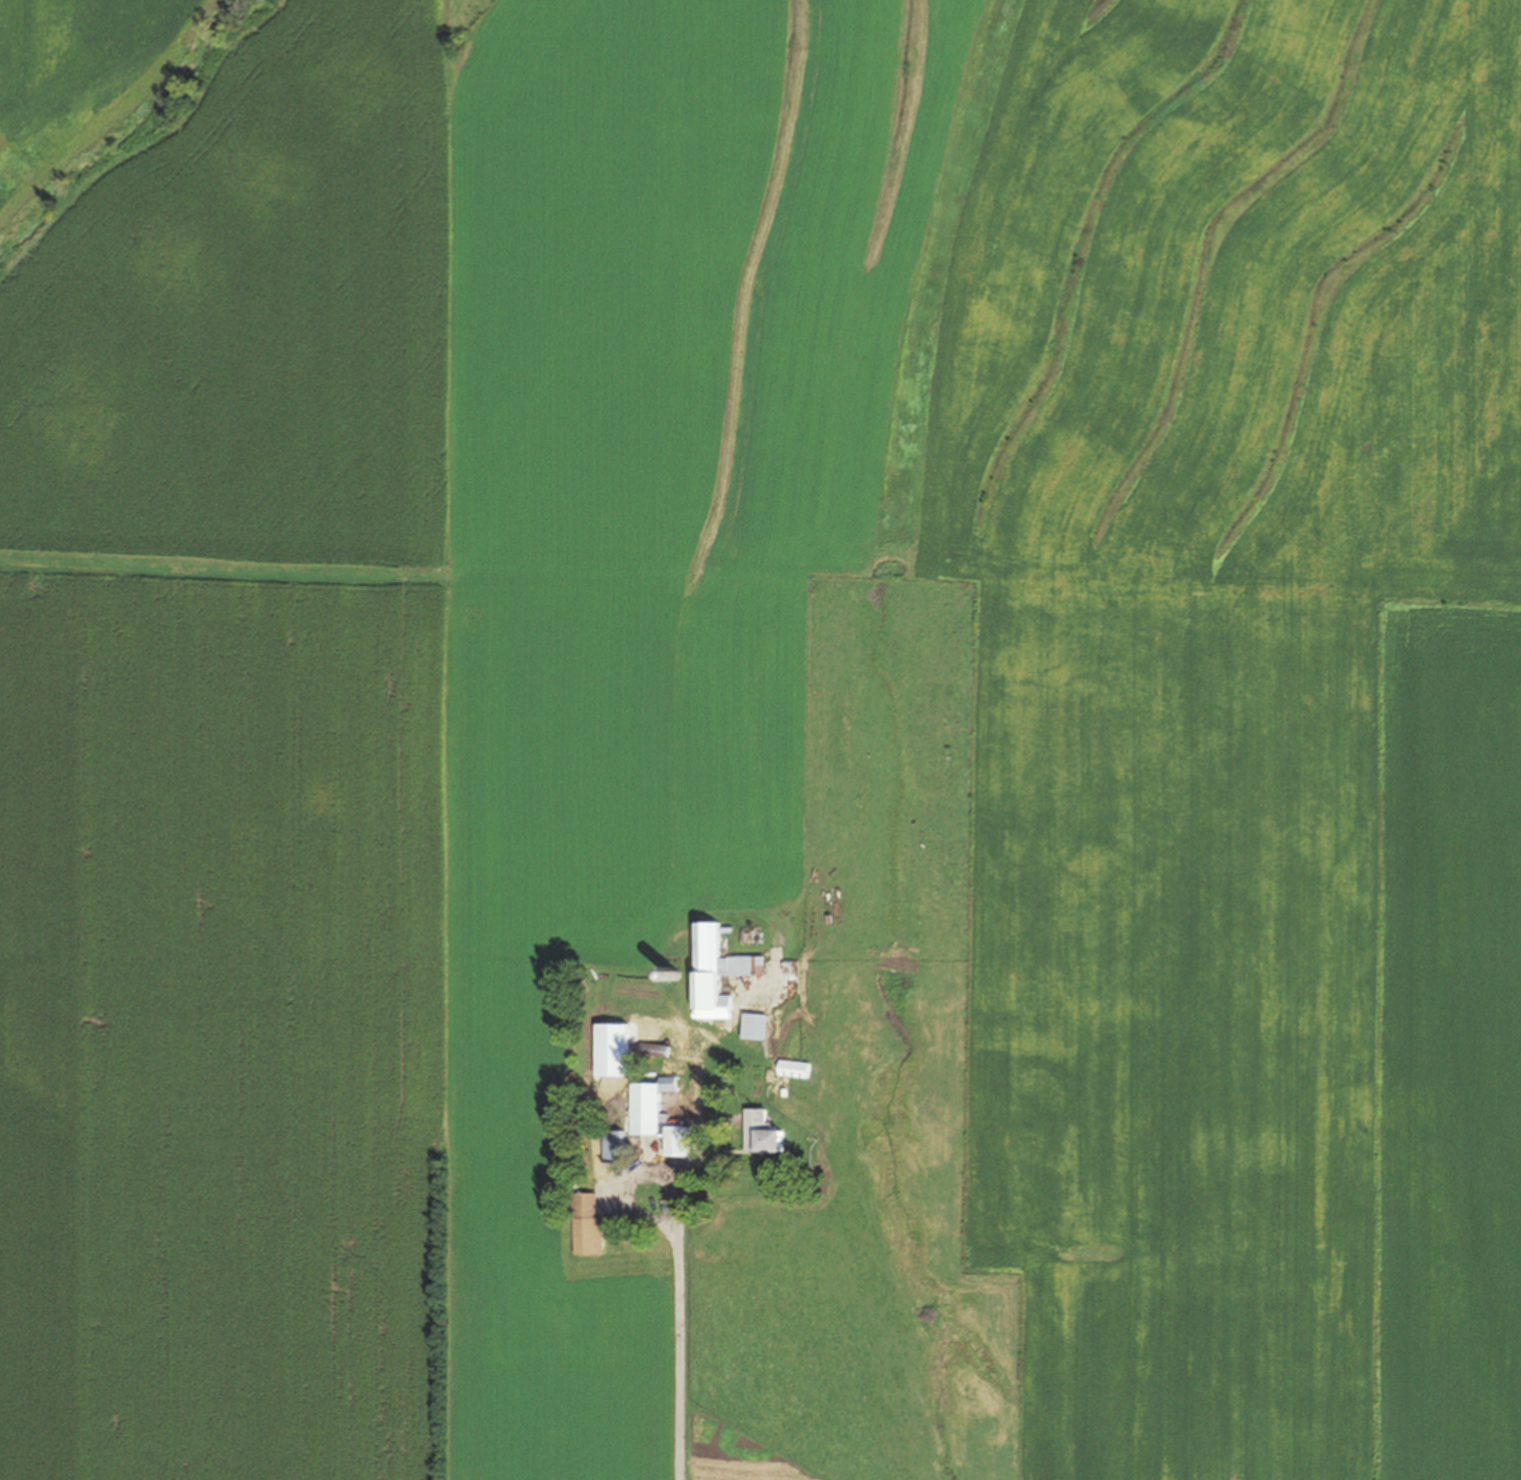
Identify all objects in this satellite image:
building: (715, 974)
building: (759, 1026)
building: (661, 1049)
building: (797, 1068)
building: (661, 1114)
building: (767, 1133)
building: (618, 1146)
road: (636, 1178)
building: (589, 1222)
road: (679, 1355)

